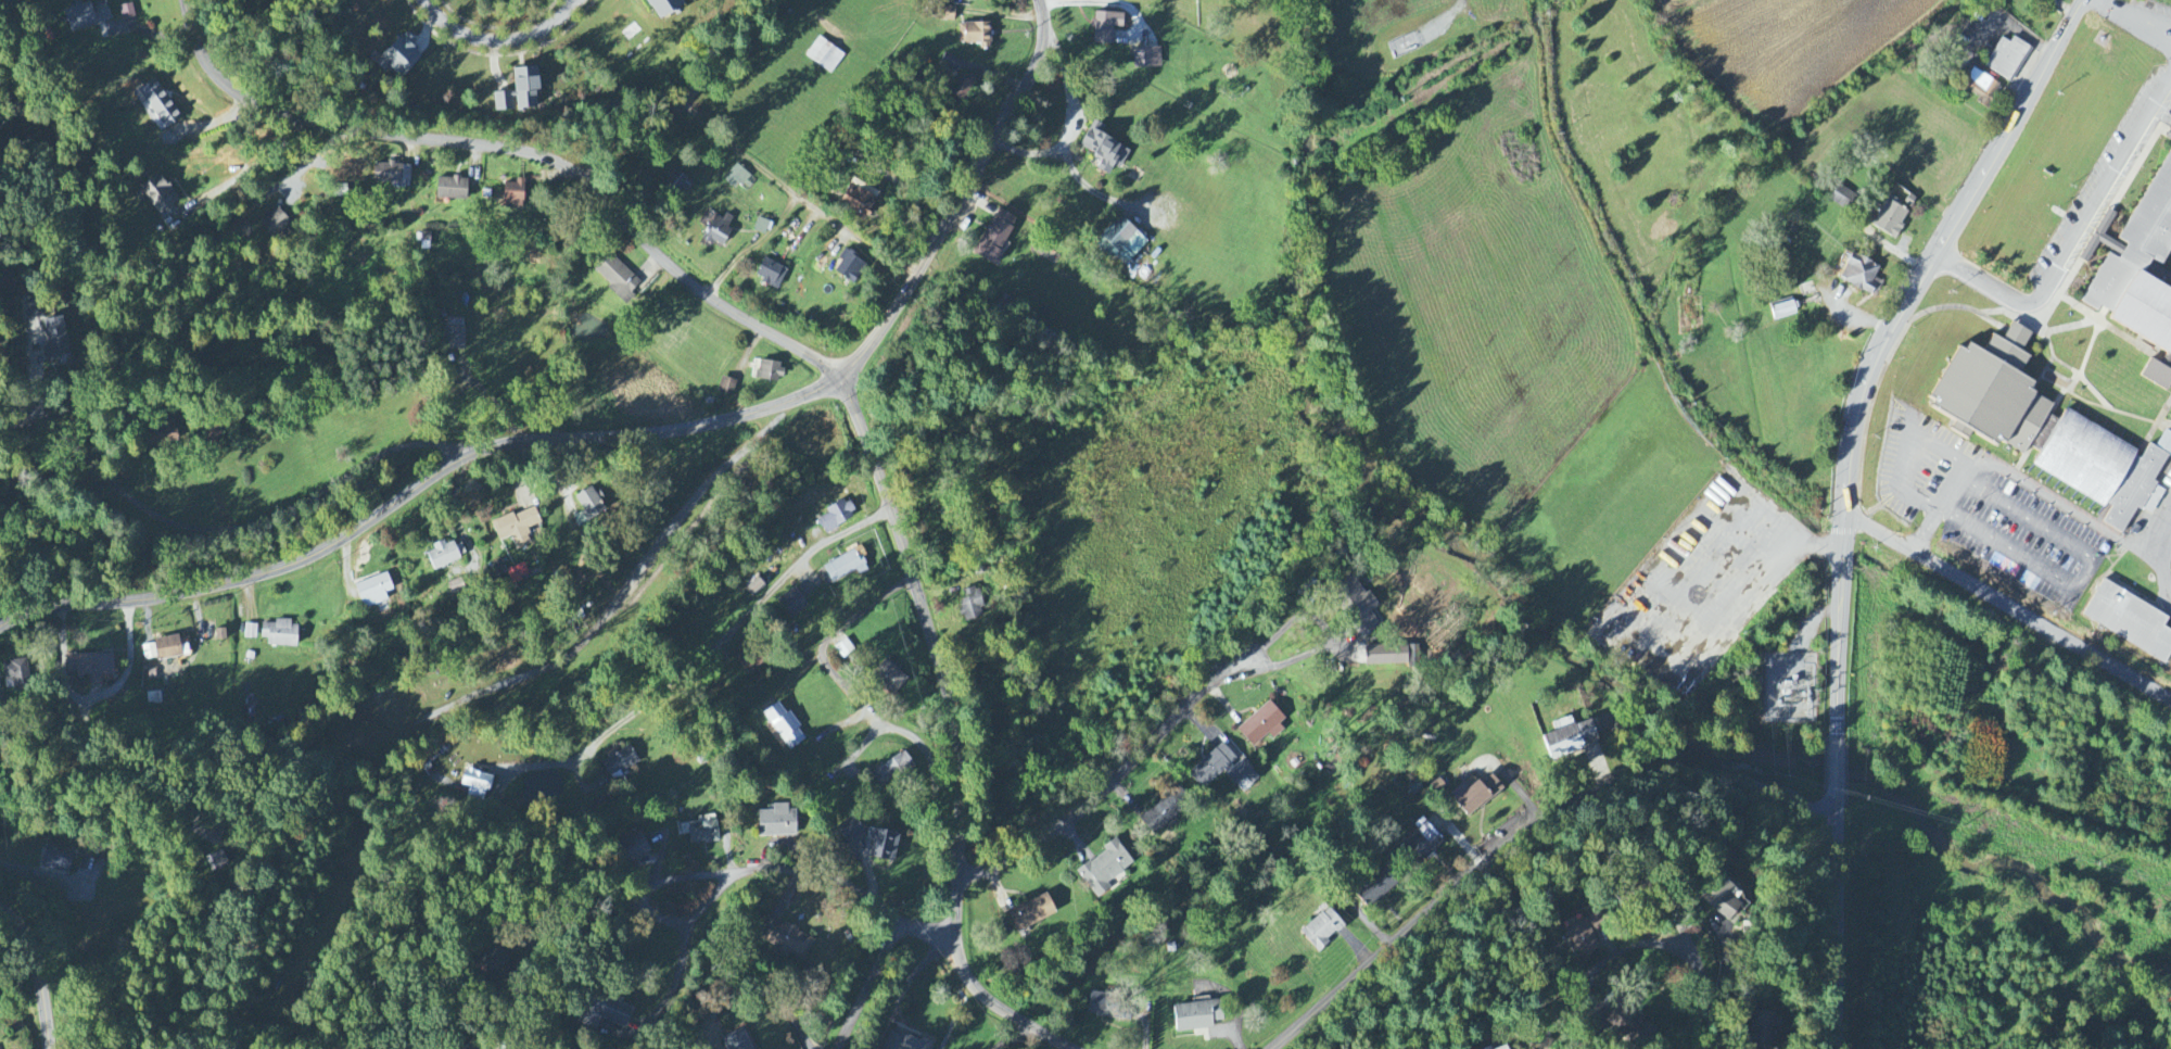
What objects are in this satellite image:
building: (969, 0)
building: (661, 7)
road: (2066, 9)
building: (127, 13)
building: (947, 14)
building: (86, 15)
road: (2128, 17)
building: (1104, 27)
building: (975, 35)
road: (499, 41)
building: (398, 56)
building: (824, 56)
building: (1146, 59)
building: (2007, 59)
building: (951, 64)
building: (964, 89)
building: (1981, 89)
building: (518, 92)
road: (680, 96)
building: (157, 104)
road: (1074, 125)
road: (2010, 127)
building: (2169, 138)
building: (1102, 150)
road: (520, 152)
road: (251, 170)
building: (392, 175)
building: (736, 179)
building: (672, 188)
building: (450, 189)
road: (1093, 191)
road: (957, 192)
building: (157, 195)
building: (512, 197)
building: (1842, 198)
building: (856, 201)
building: (1892, 216)
building: (275, 225)
building: (761, 227)
building: (718, 232)
road: (860, 233)
building: (994, 238)
road: (2074, 238)
building: (1120, 243)
building: (2137, 265)
building: (849, 268)
building: (770, 274)
building: (1861, 277)
building: (615, 278)
building: (454, 336)
building: (55, 340)
building: (767, 371)
building: (2158, 375)
building: (726, 388)
road: (25, 424)
building: (2047, 428)
building: (158, 432)
building: (210, 433)
road: (1848, 485)
road: (418, 488)
road: (1947, 494)
building: (588, 503)
building: (836, 516)
road: (250, 521)
building: (516, 528)
road: (1926, 531)
building: (444, 555)
track: (2168, 563)
building: (843, 567)
building: (517, 573)
road: (2087, 573)
building: (753, 589)
building: (372, 591)
building: (970, 605)
building: (1357, 606)
building: (788, 607)
road: (2008, 607)
road: (744, 618)
building: (2130, 622)
road: (1324, 630)
building: (250, 632)
building: (279, 634)
building: (166, 648)
building: (1386, 656)
building: (89, 668)
building: (16, 675)
building: (889, 679)
building: (1794, 687)
building: (153, 699)
road: (950, 702)
road: (864, 715)
building: (783, 725)
building: (1262, 726)
road: (955, 733)
building: (1570, 740)
power tower: (1804, 751)
building: (620, 763)
building: (1211, 768)
building: (892, 770)
road: (1834, 770)
building: (1242, 775)
building: (475, 785)
road: (1110, 785)
building: (1437, 786)
building: (1474, 795)
building: (1161, 813)
building: (776, 823)
building: (849, 831)
road: (1525, 832)
building: (702, 833)
building: (884, 846)
building: (1421, 847)
building: (634, 848)
building: (56, 858)
building: (217, 860)
building: (1105, 869)
road: (25, 871)
road: (747, 875)
building: (1374, 888)
building: (1719, 898)
building: (1031, 913)
road: (1837, 926)
road: (579, 927)
building: (1321, 930)
building: (1585, 935)
building: (786, 940)
road: (1665, 944)
building: (494, 962)
road: (38, 972)
road: (677, 982)
road: (865, 986)
road: (772, 995)
road: (1539, 1001)
building: (1104, 1008)
building: (604, 1013)
building: (1196, 1016)
building: (1625, 1024)
road: (1475, 1029)
building: (1763, 1031)
road: (1016, 1037)
building: (736, 1041)
building: (904, 1042)
building: (464, 1047)
building: (1488, 1048)
building: (1502, 1048)

